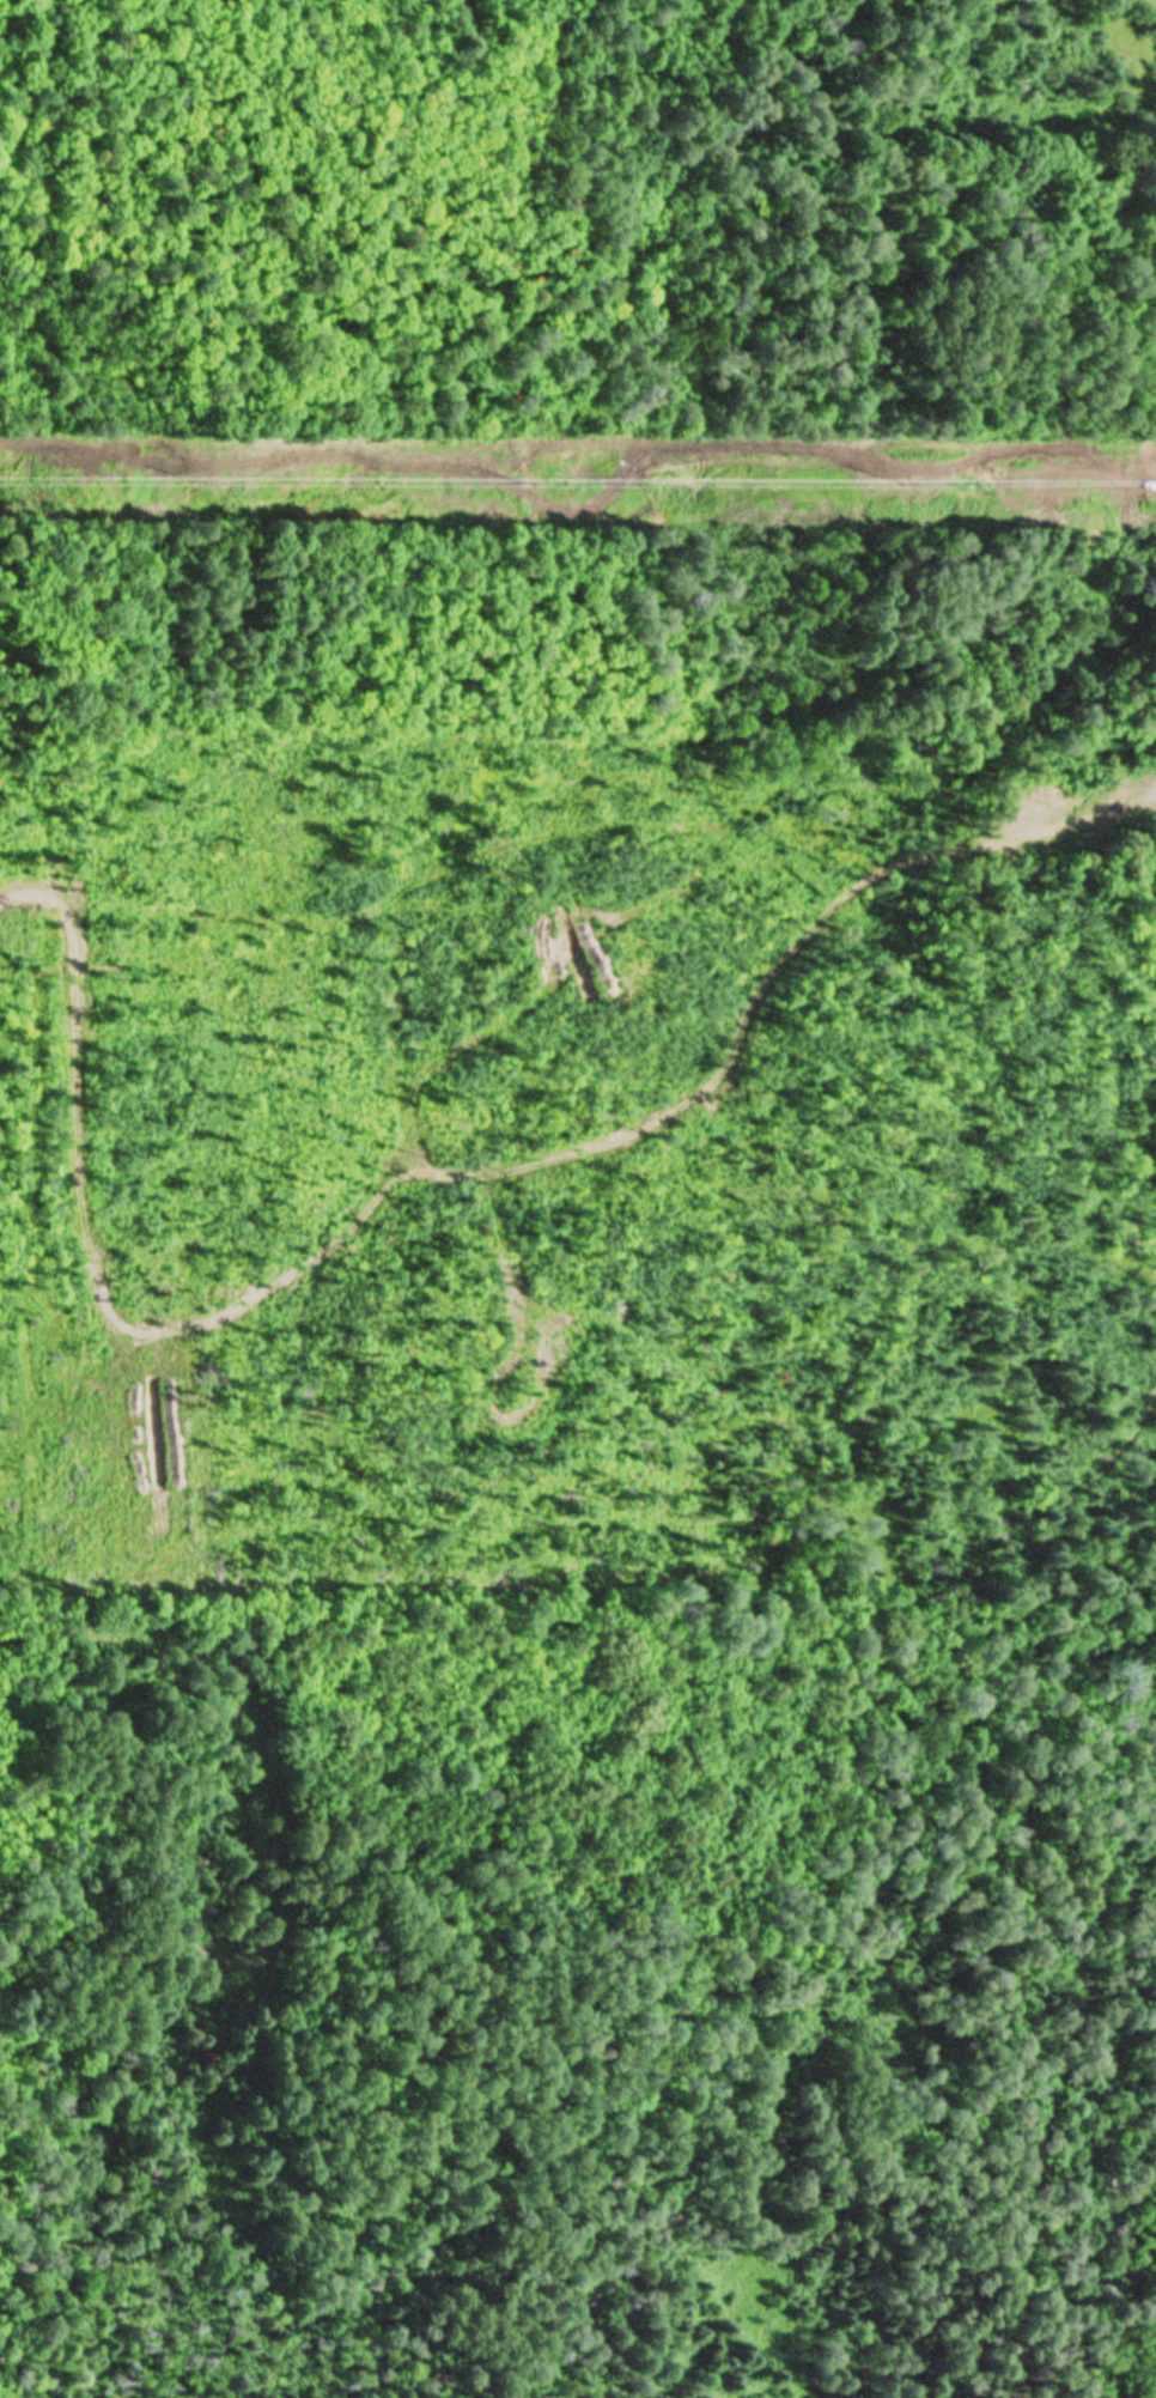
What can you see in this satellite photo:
road: (1151, 339)
road: (1139, 638)

